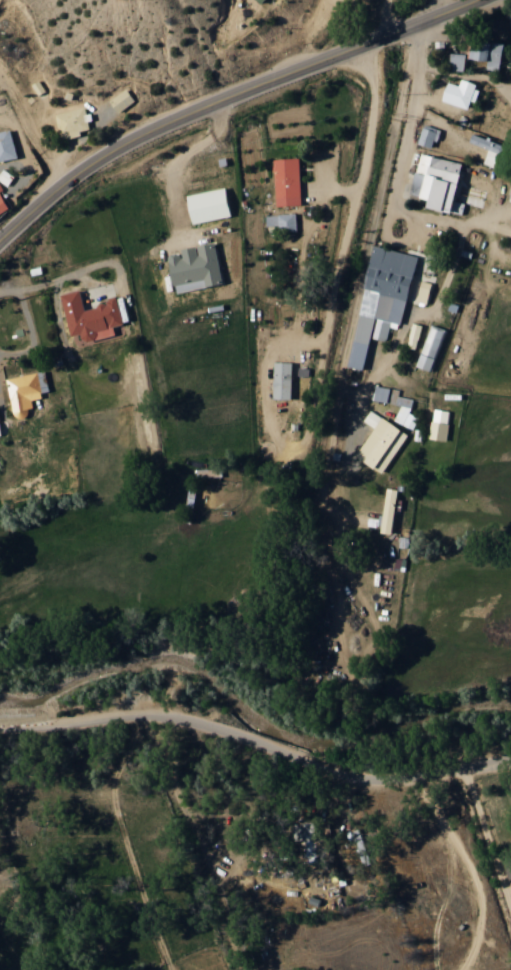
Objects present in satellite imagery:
building: (262, 1)
building: (509, 18)
building: (491, 54)
building: (457, 61)
road: (467, 73)
building: (38, 87)
building: (461, 92)
road: (229, 95)
building: (121, 100)
building: (73, 122)
building: (428, 136)
building: (7, 145)
building: (489, 148)
road: (401, 163)
building: (287, 181)
building: (439, 182)
building: (3, 202)
building: (209, 205)
building: (282, 221)
road: (342, 239)
building: (196, 267)
building: (384, 295)
building: (91, 316)
building: (431, 347)
building: (283, 380)
building: (23, 392)
building: (403, 409)
building: (439, 424)
building: (380, 441)
building: (390, 510)
river: (247, 708)
road: (82, 718)
road: (334, 773)
road: (487, 841)
road: (196, 843)
road: (125, 844)
building: (508, 867)
road: (467, 870)

